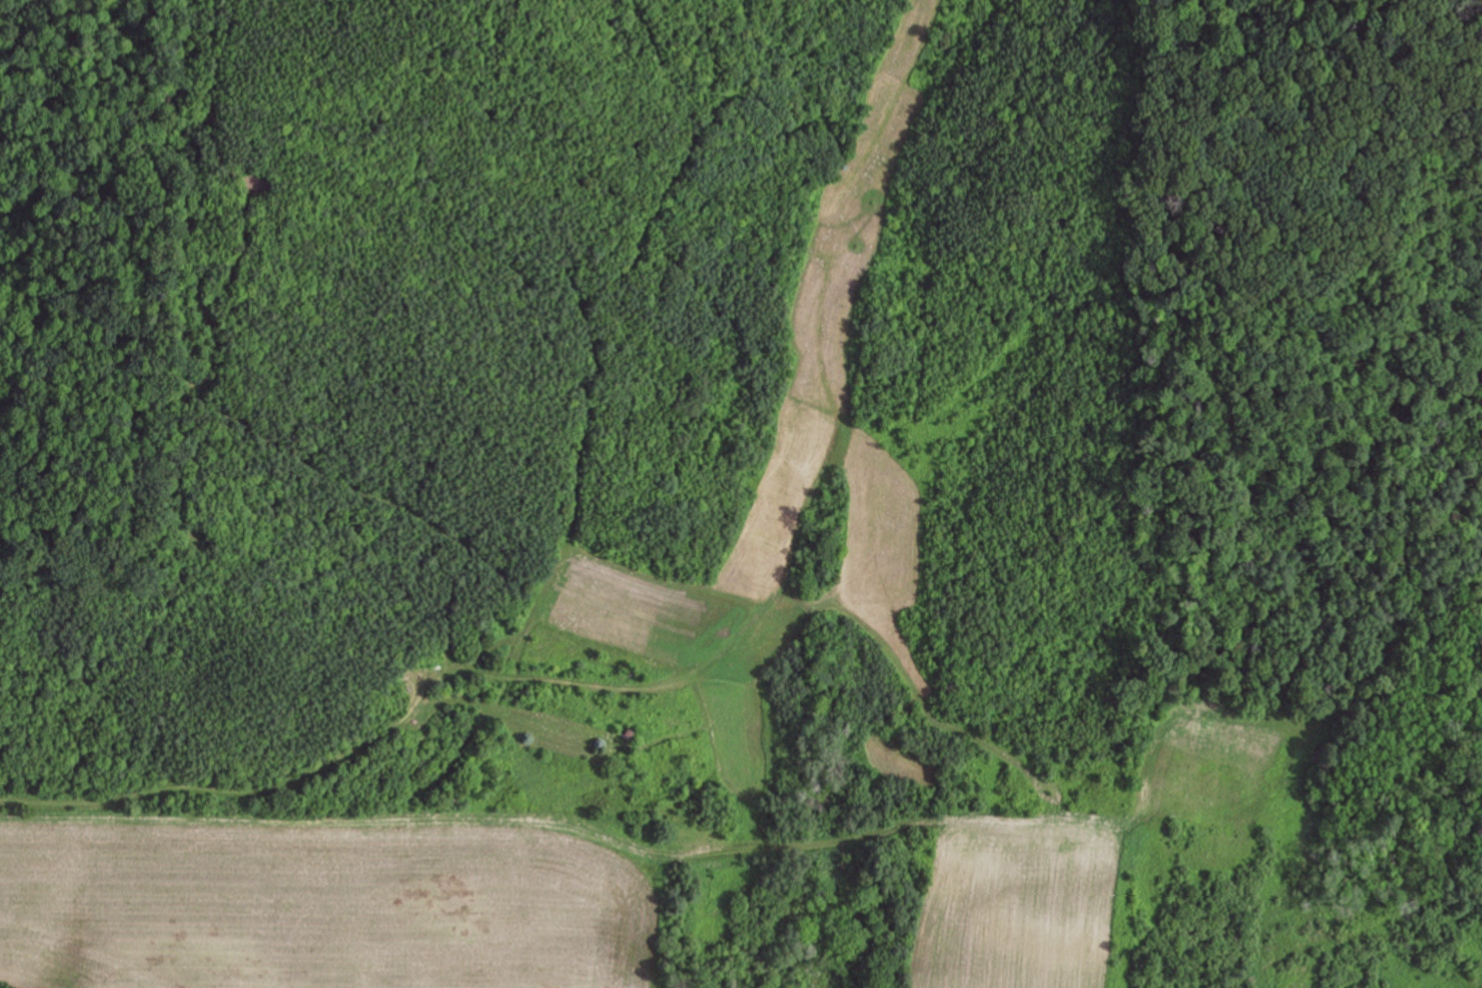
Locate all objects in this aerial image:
crop: (336, 904)
crop: (1024, 908)

